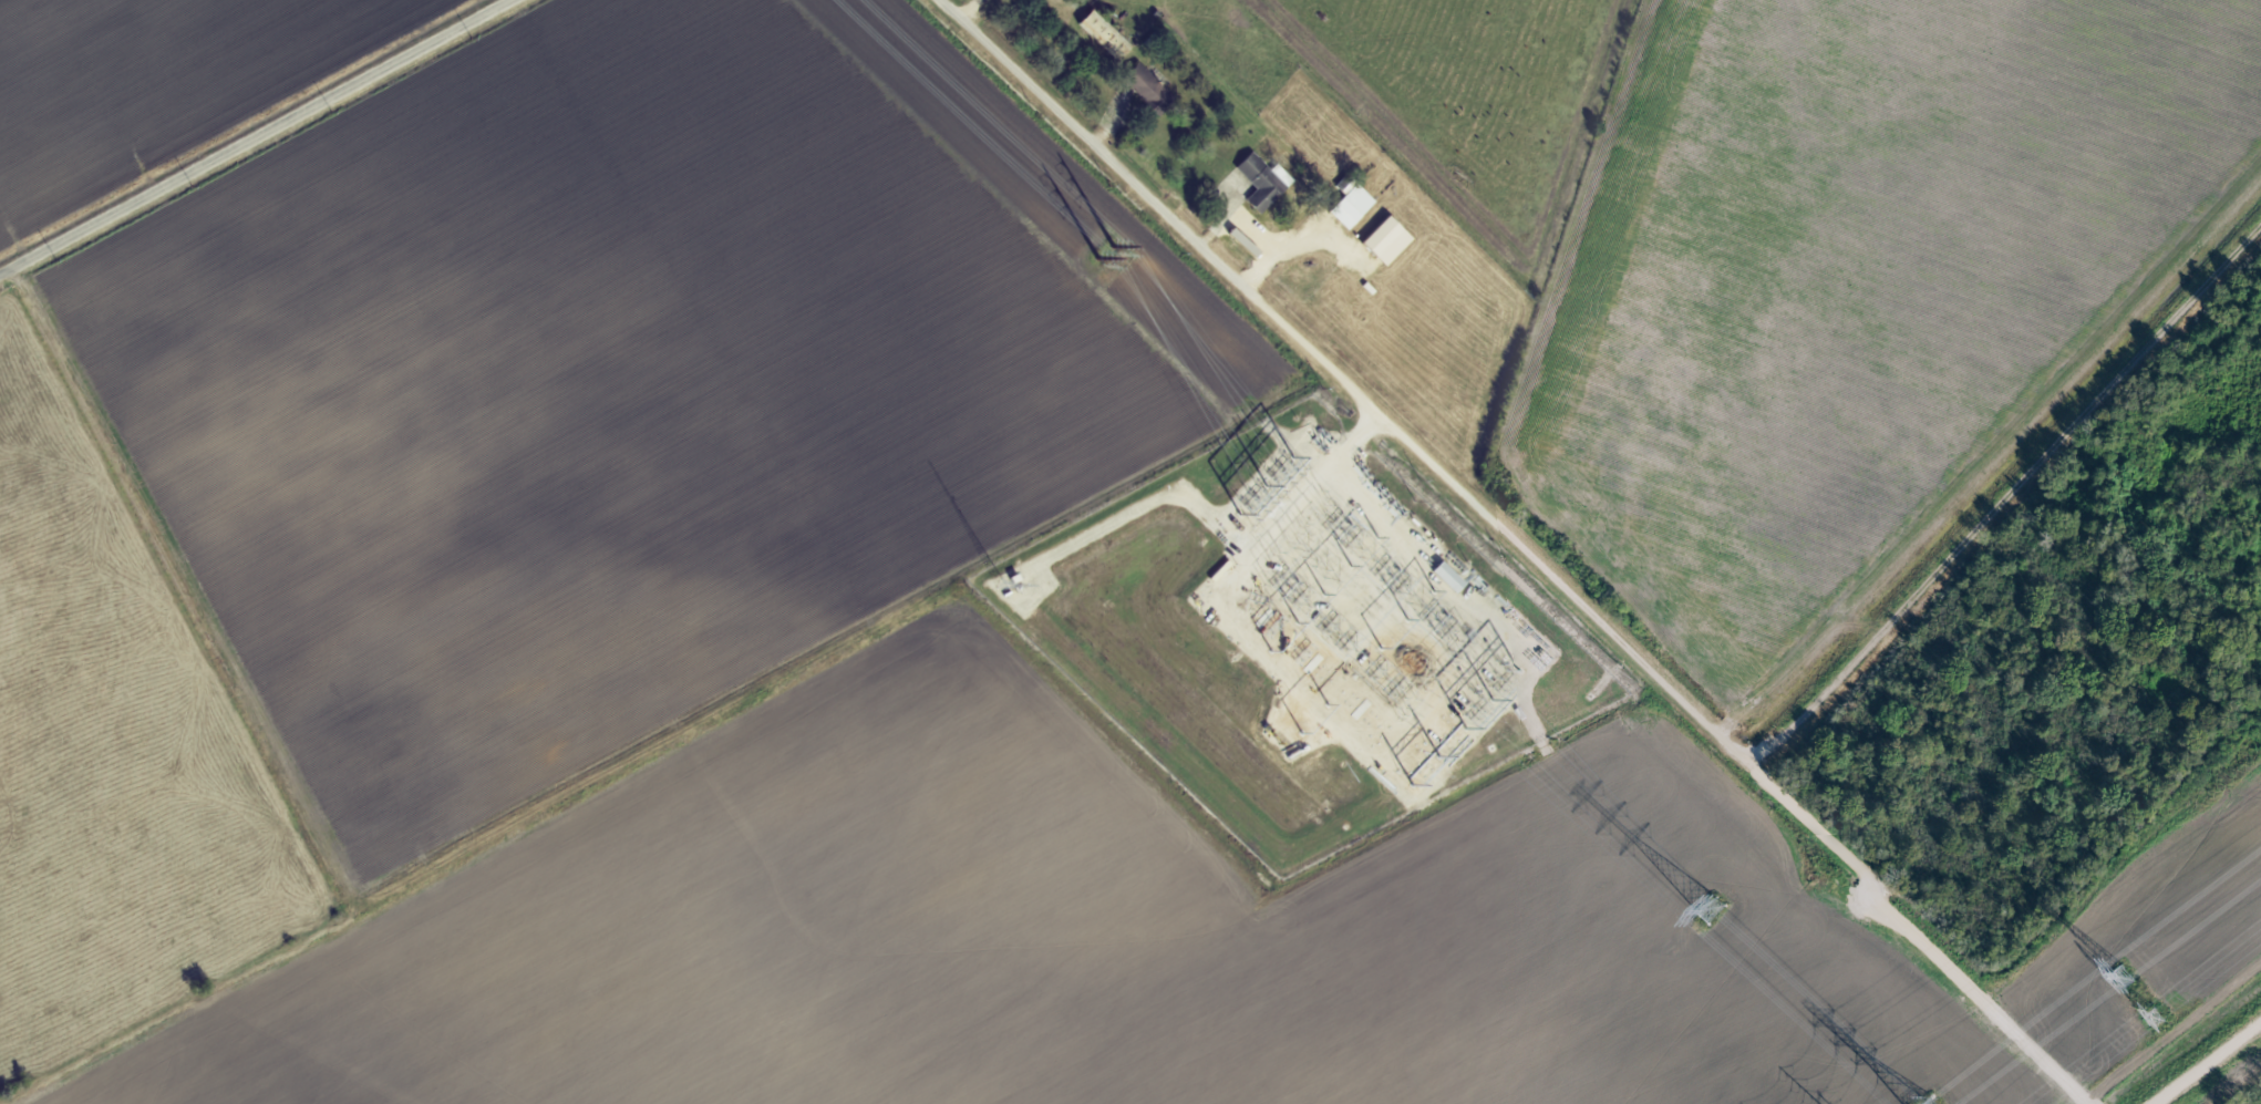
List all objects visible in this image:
road: (975, 9)
building: (1108, 33)
building: (1149, 86)
road: (1118, 116)
road: (259, 140)
building: (1263, 180)
building: (1354, 206)
road: (1227, 215)
road: (1350, 228)
building: (1388, 240)
power tower: (1118, 247)
road: (1289, 247)
power tower: (1099, 259)
road: (1406, 430)
building: (1450, 576)
power substation: (1303, 638)
power tower: (1715, 912)
power tower: (2121, 977)
power tower: (2156, 1017)
railway: (2196, 1053)

